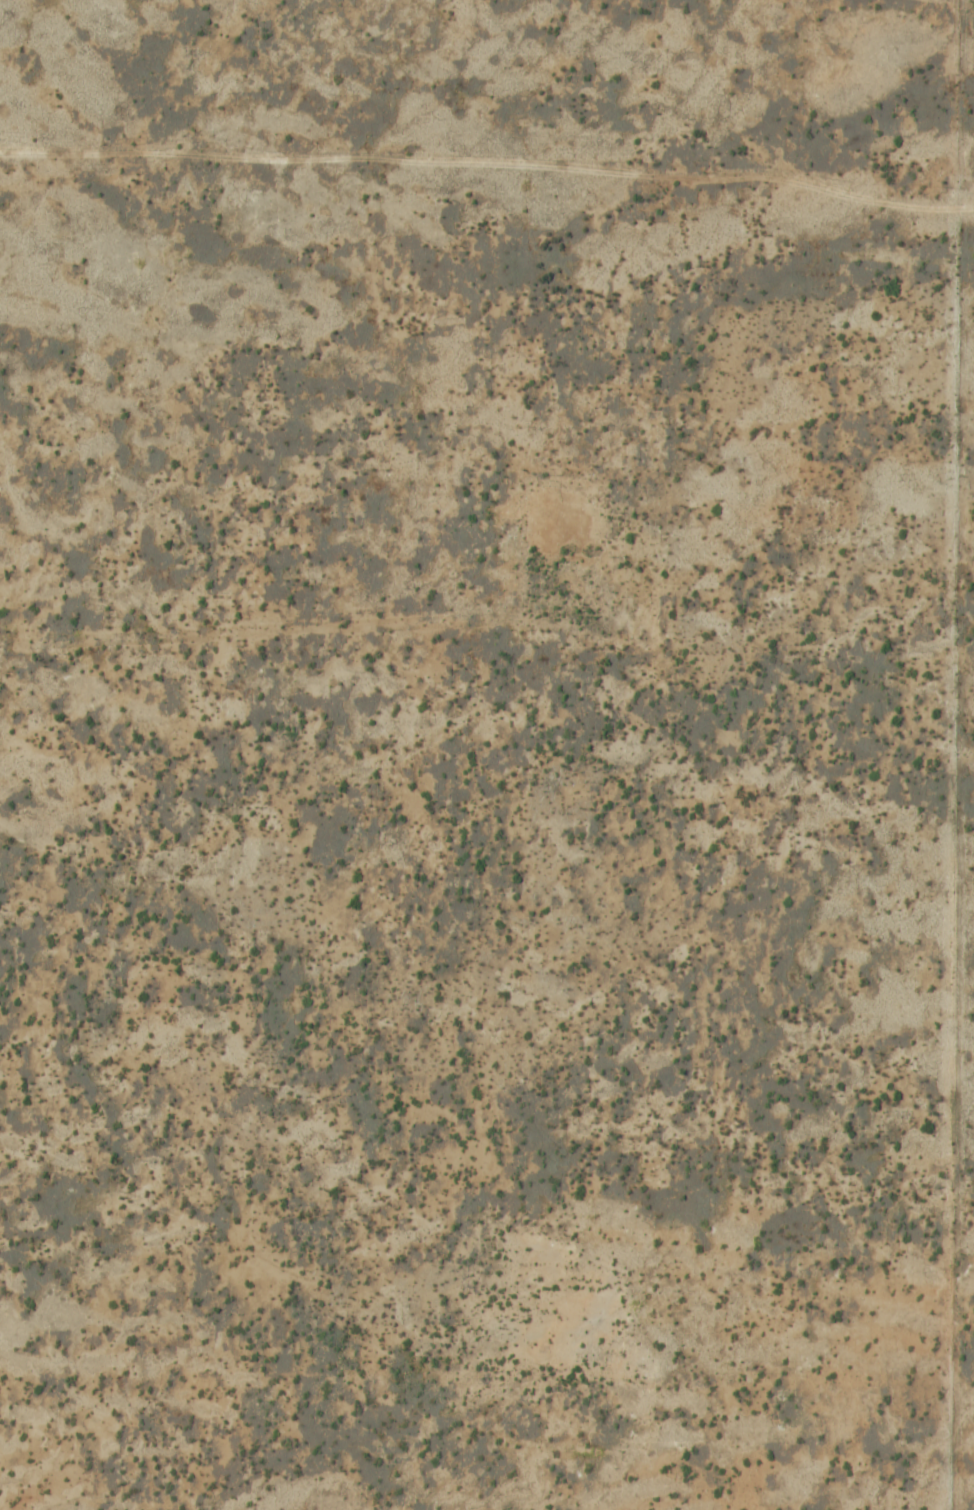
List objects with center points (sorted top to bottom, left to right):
road: (490, 160)

